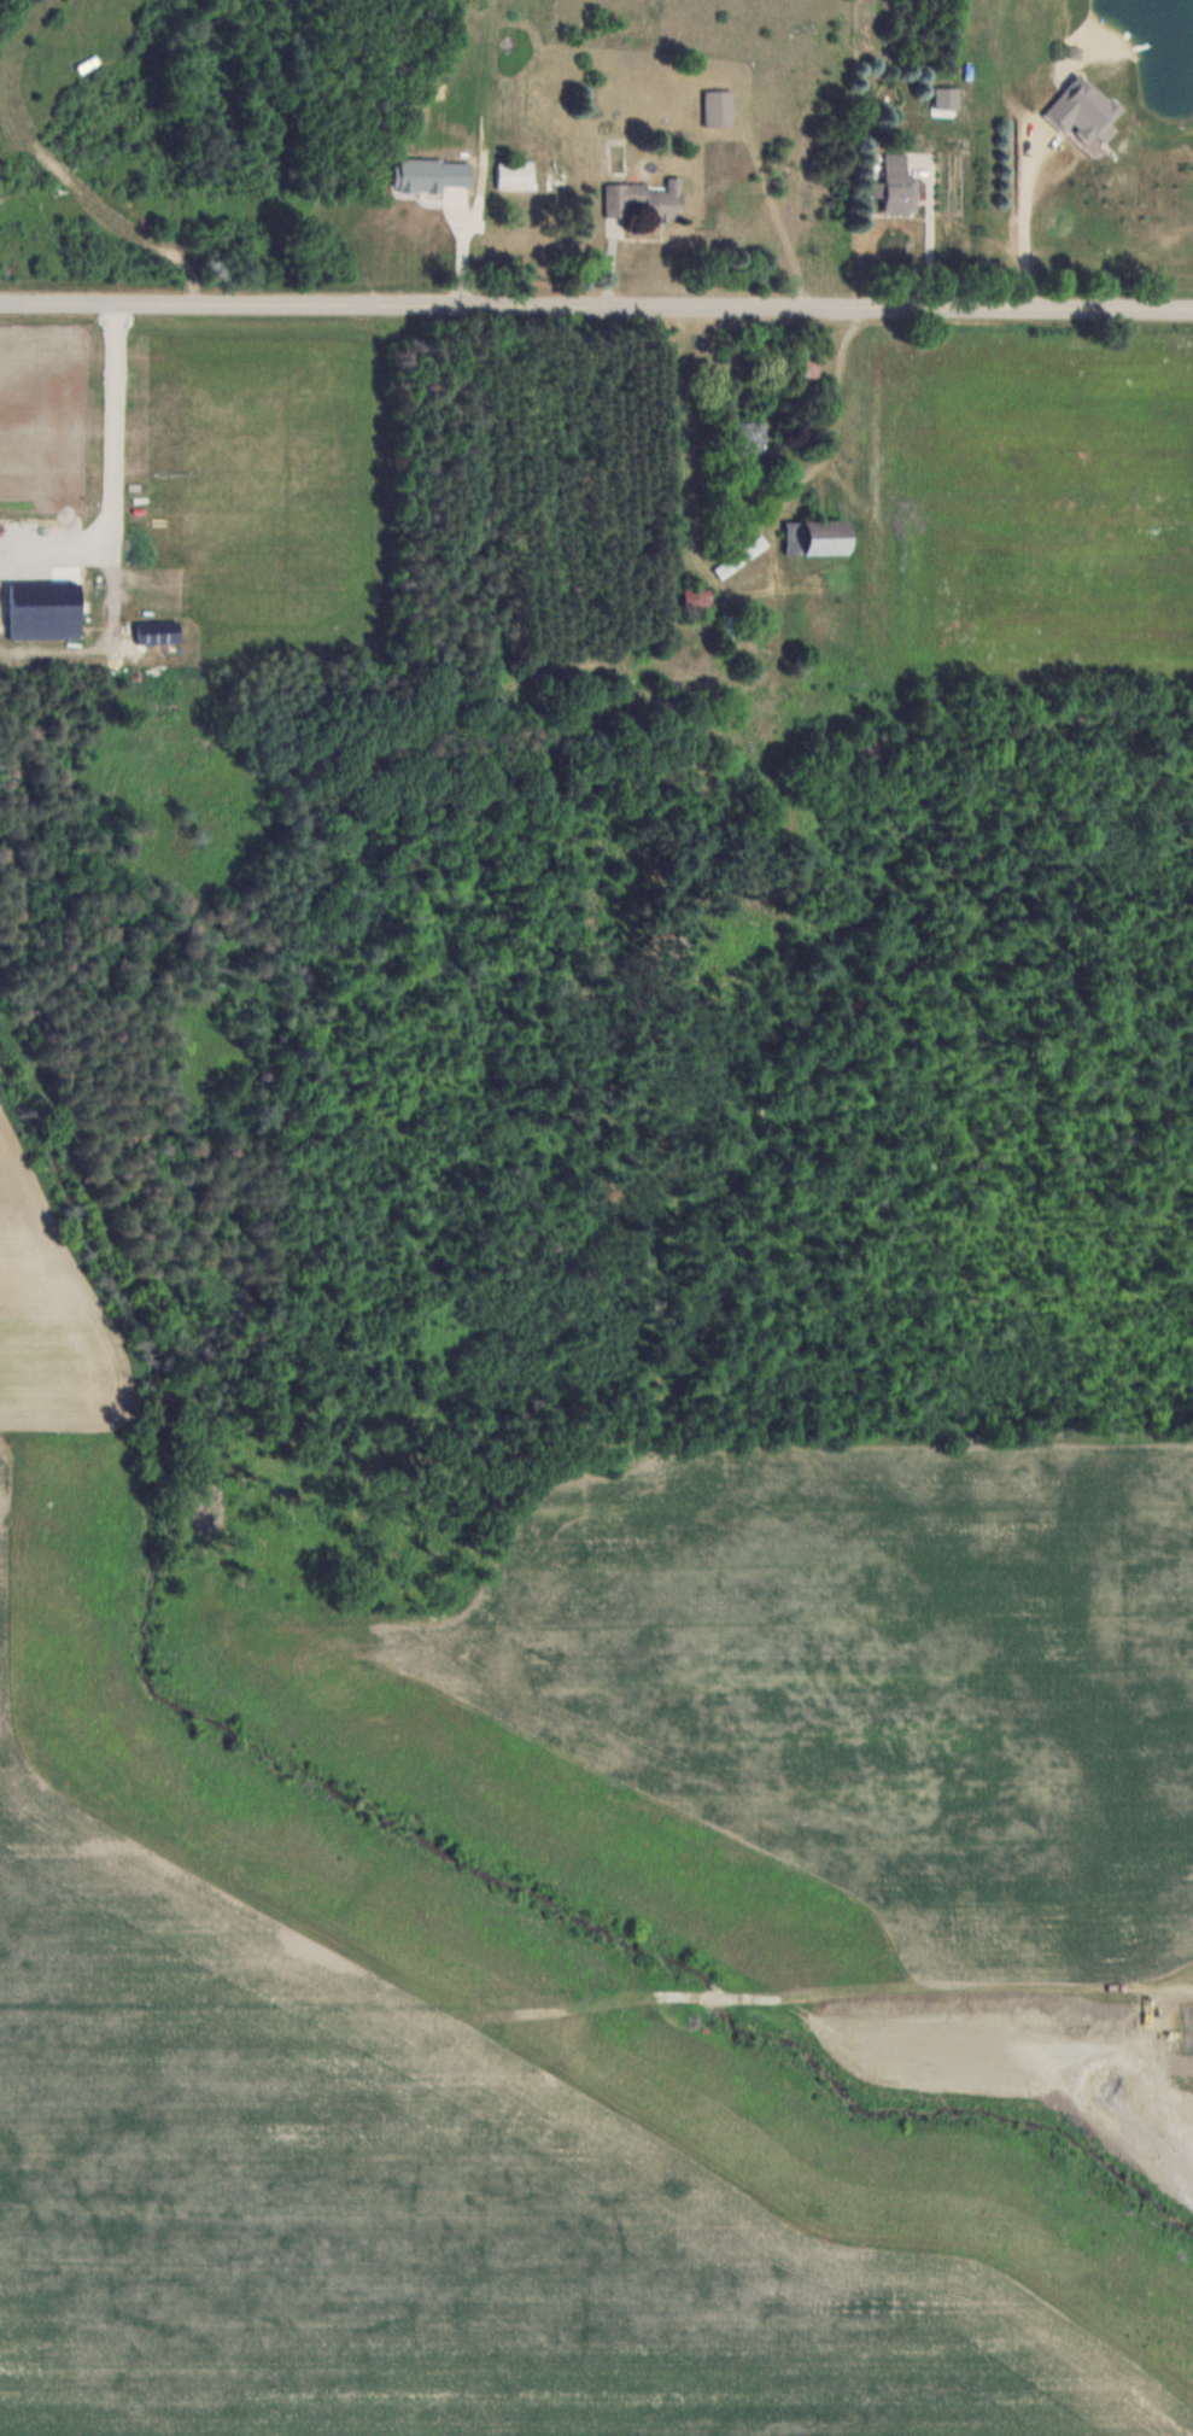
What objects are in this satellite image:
building: (719, 107)
building: (517, 175)
building: (900, 185)
building: (644, 200)
road: (922, 233)
road: (596, 308)
building: (811, 363)
building: (752, 439)
building: (818, 538)
building: (697, 600)

